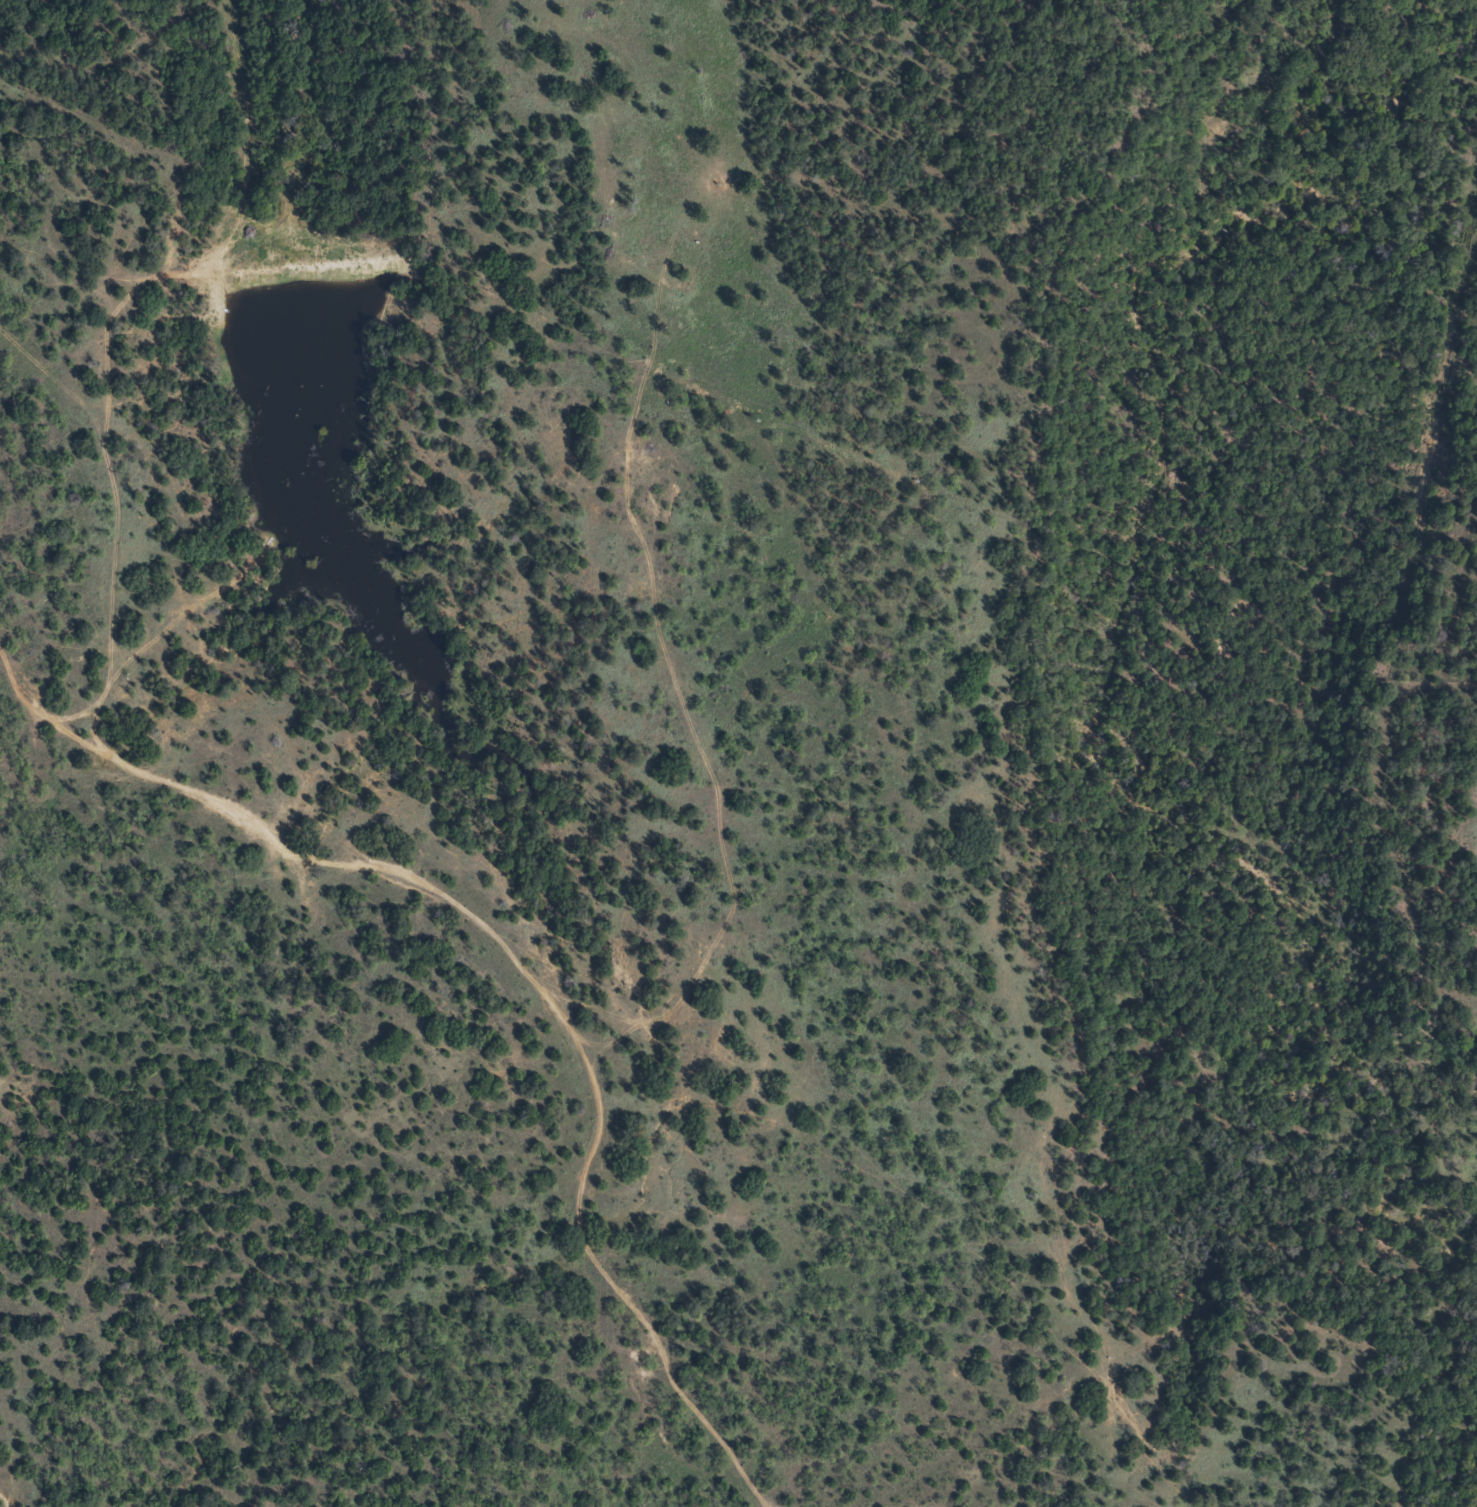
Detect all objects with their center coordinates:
road: (529, 965)

